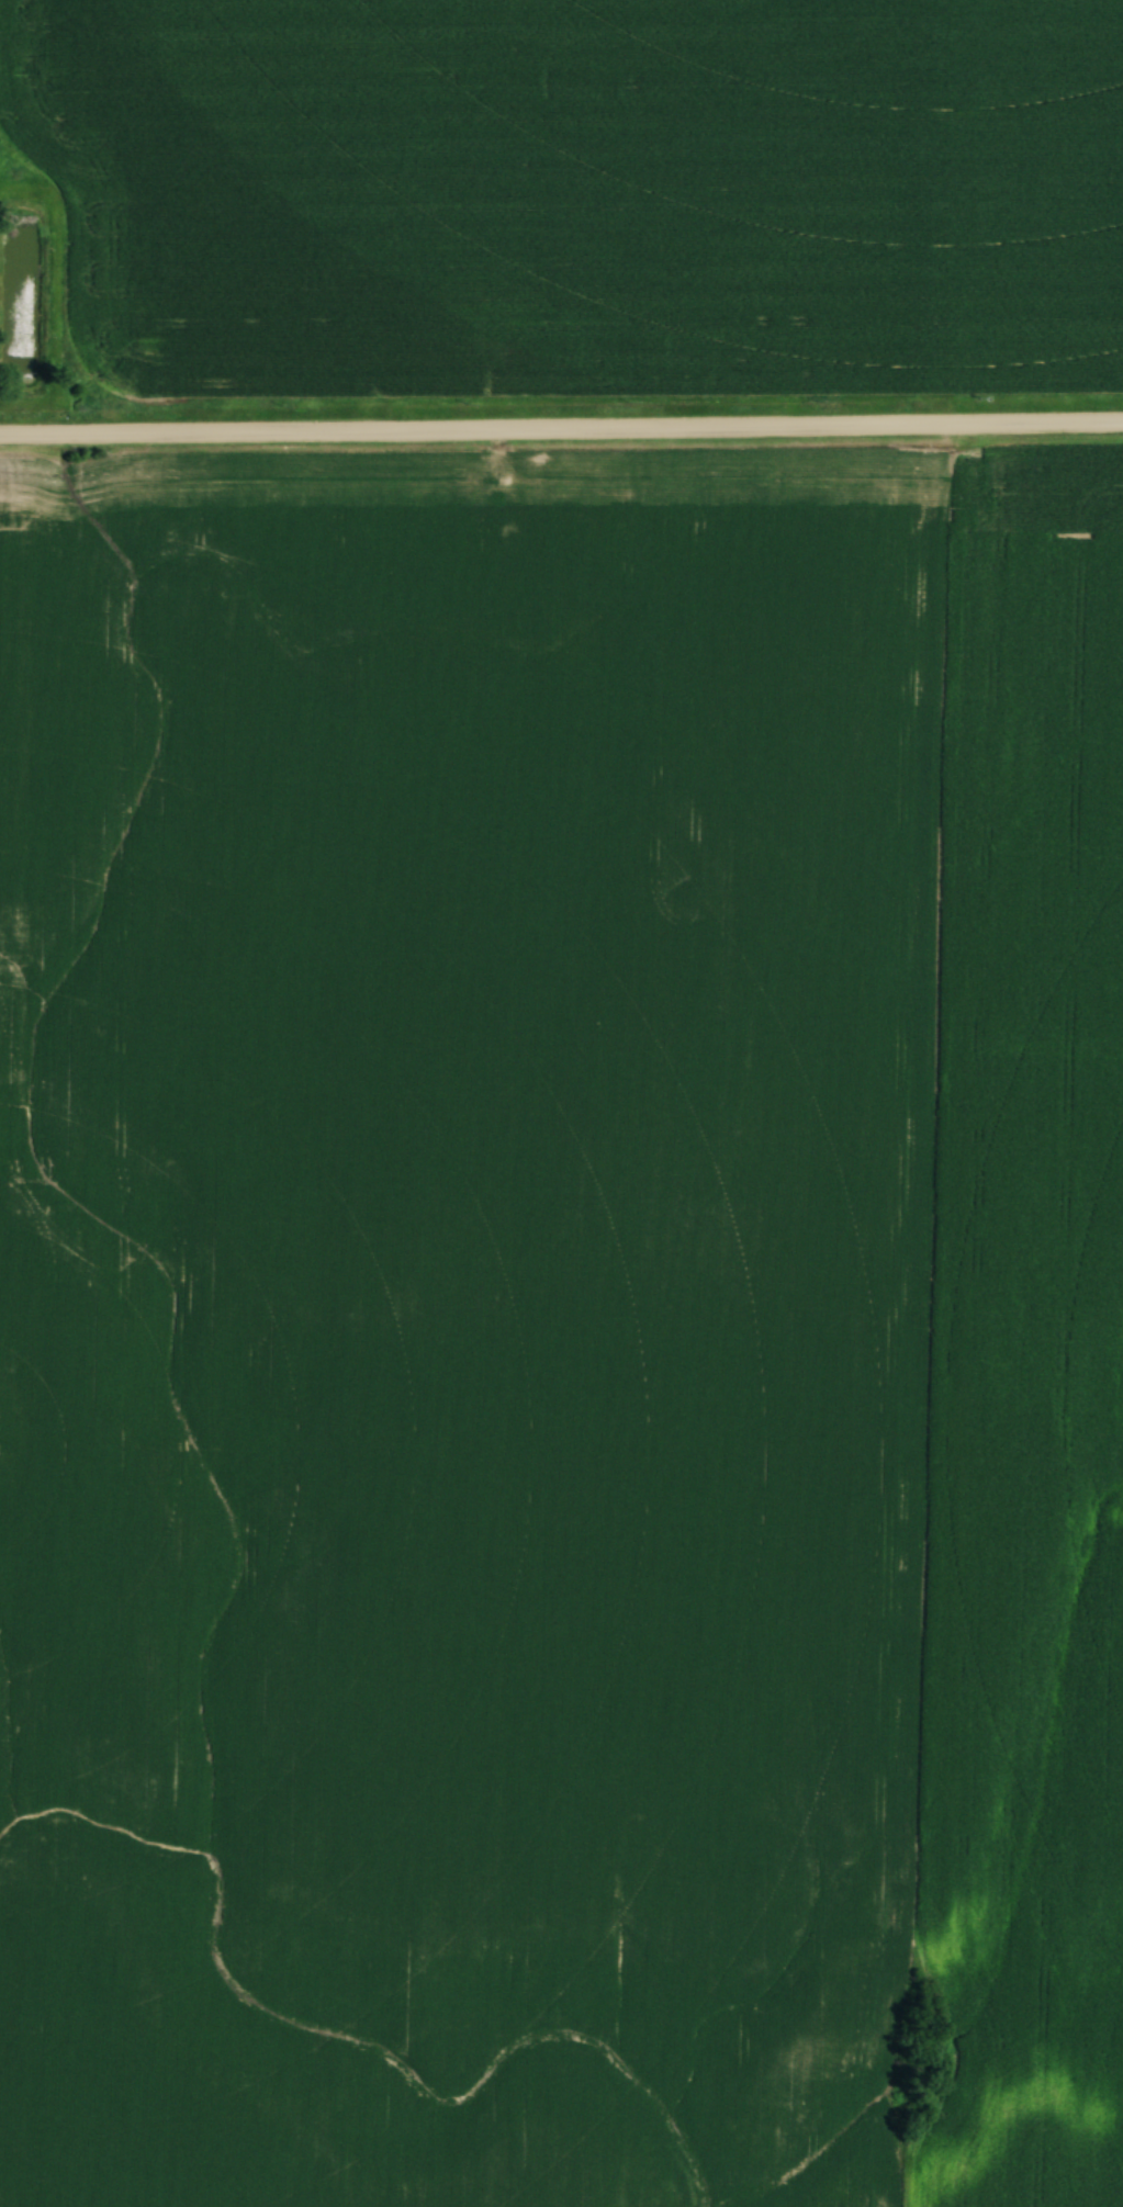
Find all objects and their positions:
road: (561, 432)

